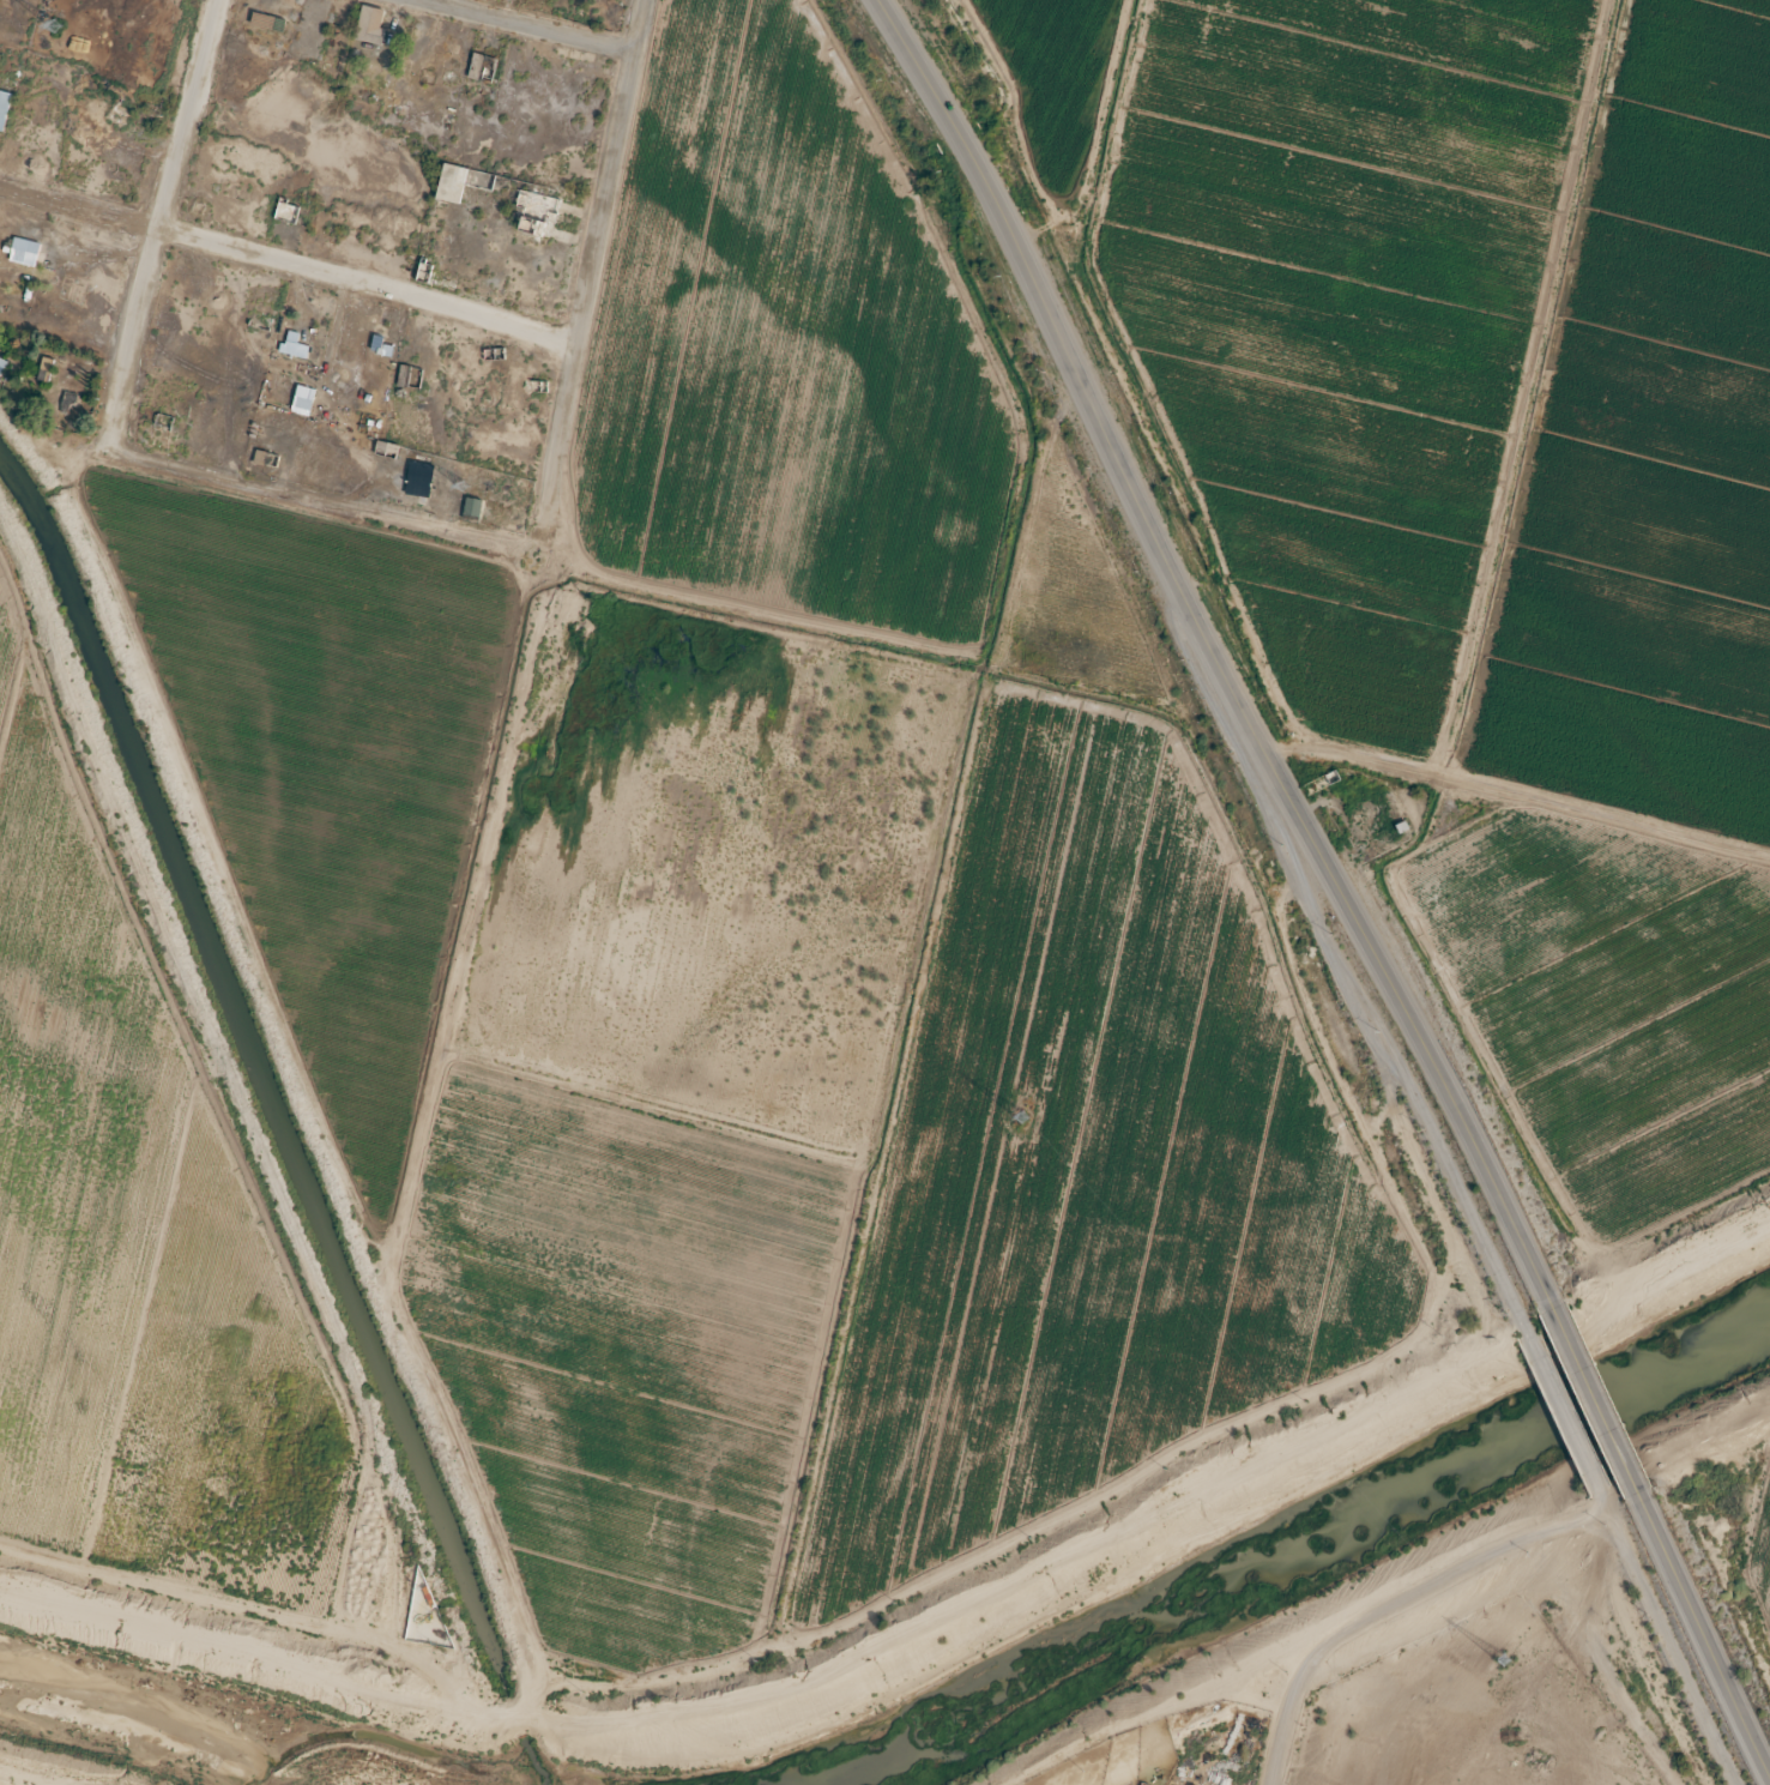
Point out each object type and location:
road: (501, 28)
road: (149, 215)
road: (579, 283)
road: (1203, 662)
road: (1147, 713)
road: (1390, 1096)
road: (1690, 1632)

